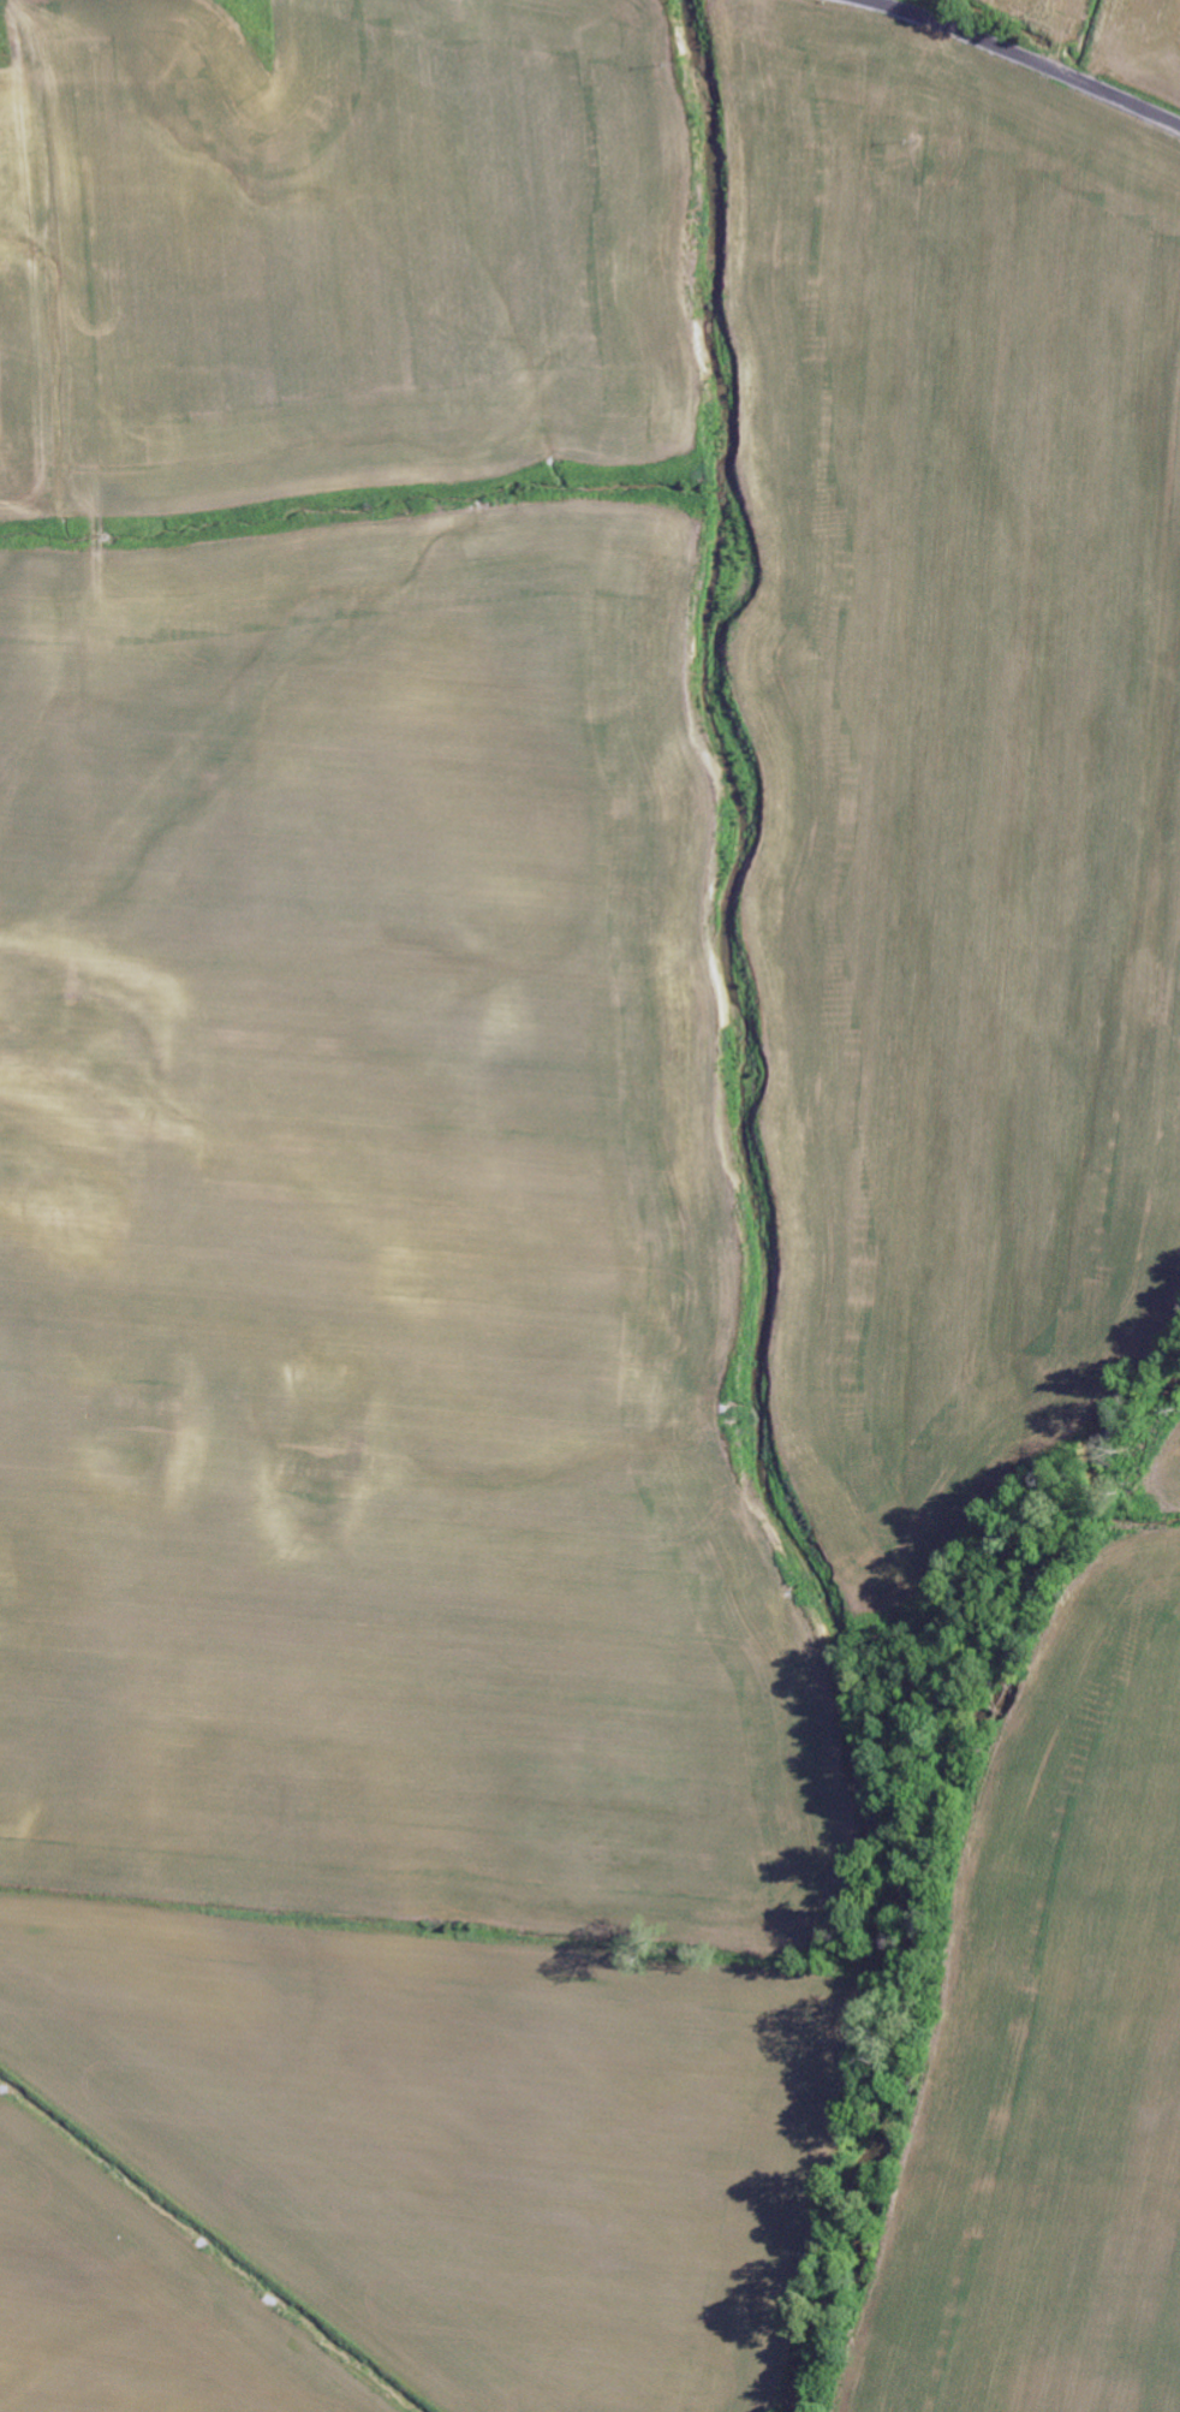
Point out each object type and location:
road: (1026, 58)

